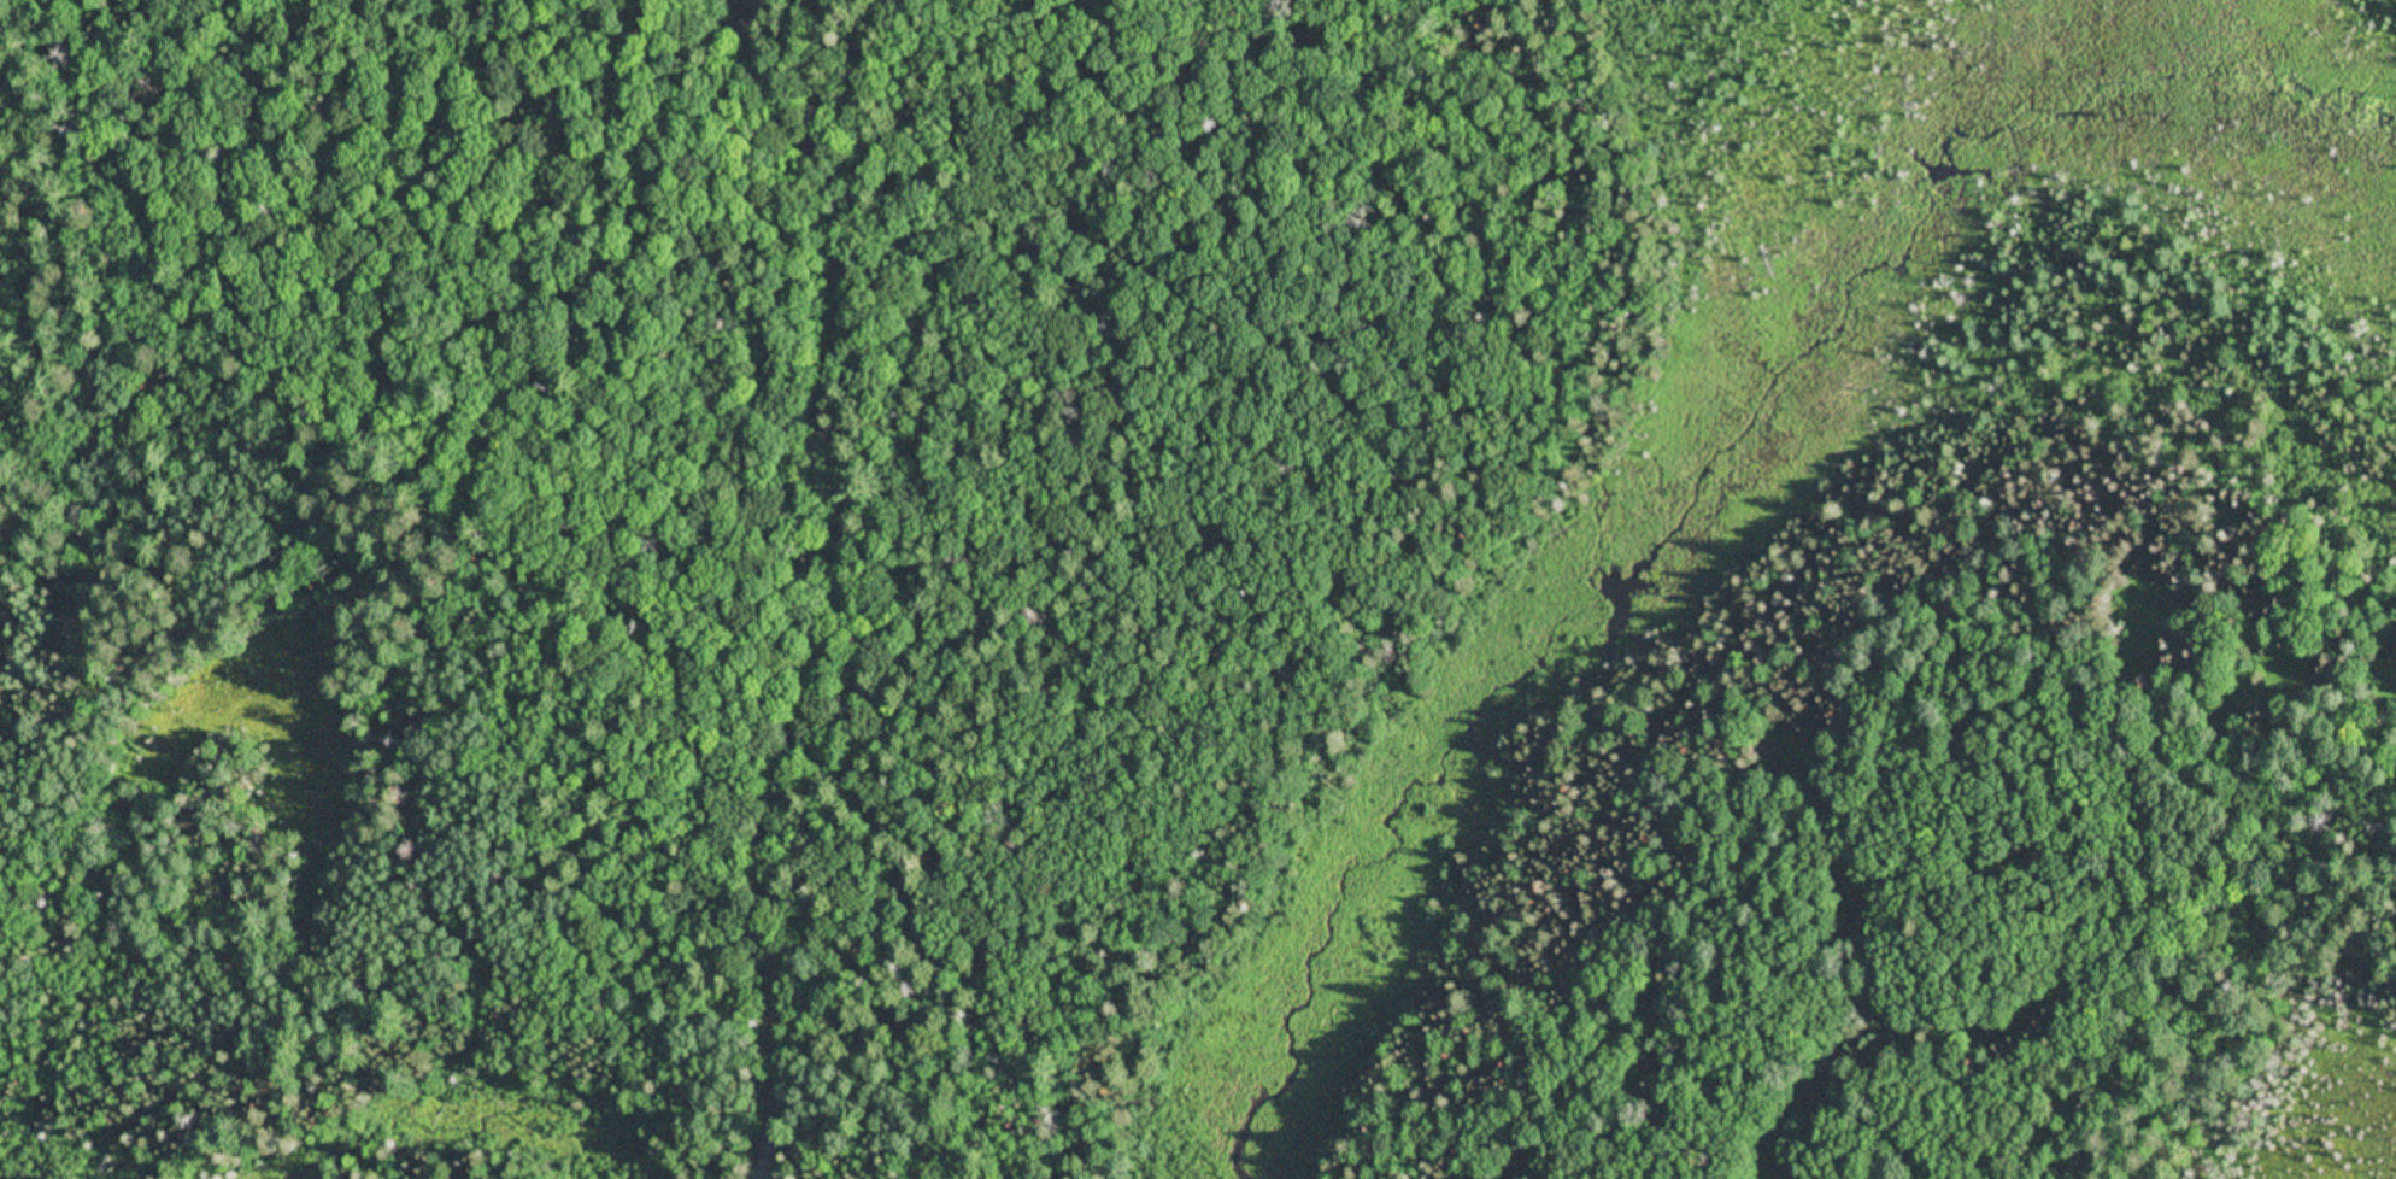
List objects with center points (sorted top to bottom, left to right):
road: (848, 587)
road: (410, 973)

